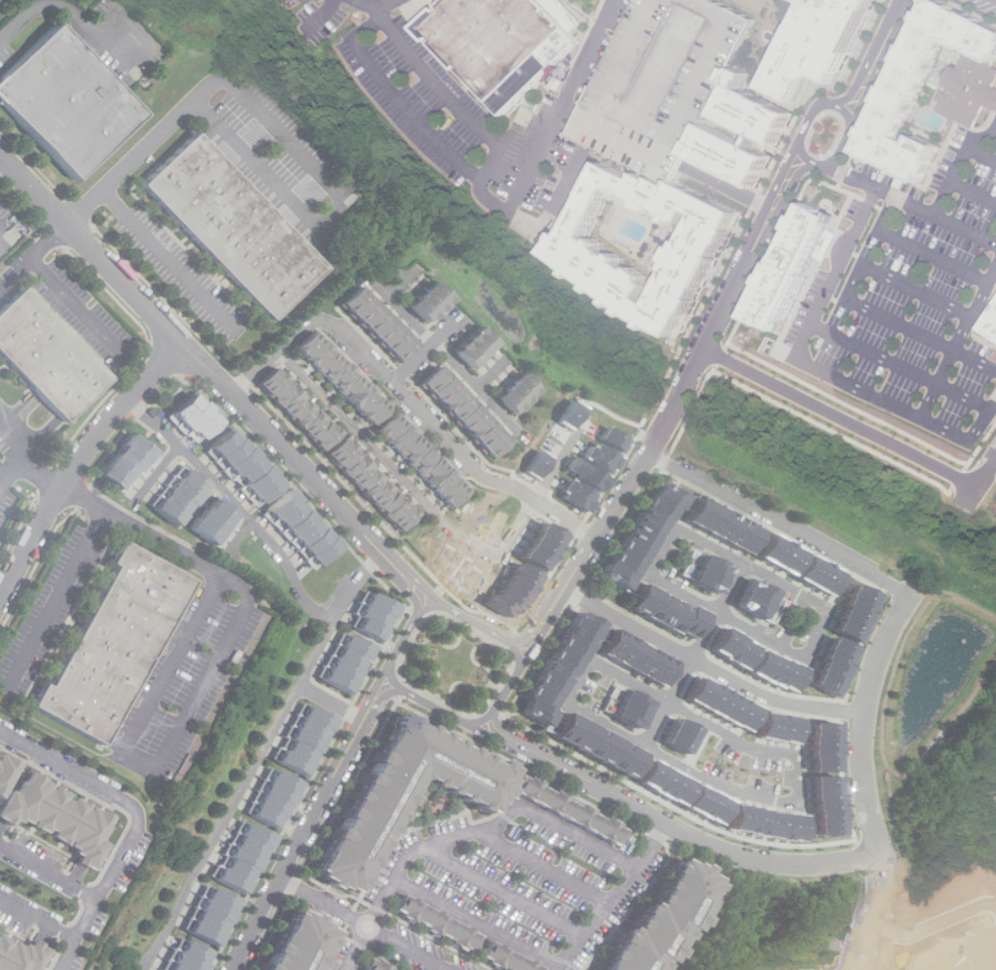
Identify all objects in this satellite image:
road: (989, 3)
road: (371, 7)
road: (392, 7)
road: (324, 14)
road: (76, 16)
road: (375, 18)
building: (499, 38)
building: (826, 41)
road: (877, 55)
building: (668, 80)
parking lot: (668, 80)
building: (973, 92)
building: (67, 100)
road: (575, 114)
building: (754, 114)
road: (558, 123)
road: (283, 130)
road: (982, 153)
building: (735, 156)
road: (835, 158)
road: (959, 164)
road: (730, 189)
road: (974, 191)
road: (566, 200)
road: (888, 212)
road: (946, 218)
building: (233, 226)
building: (585, 246)
road: (165, 254)
road: (32, 255)
road: (934, 256)
building: (798, 268)
road: (400, 281)
road: (918, 289)
road: (74, 303)
building: (429, 303)
building: (990, 323)
road: (967, 324)
building: (376, 325)
road: (808, 331)
road: (921, 334)
road: (430, 343)
road: (424, 347)
building: (473, 348)
road: (876, 353)
building: (47, 357)
road: (212, 376)
building: (339, 378)
building: (517, 394)
road: (406, 400)
road: (993, 404)
road: (675, 408)
building: (297, 409)
road: (993, 409)
building: (461, 411)
building: (194, 418)
road: (843, 418)
road: (972, 436)
road: (362, 438)
road: (30, 454)
building: (423, 460)
road: (80, 461)
road: (16, 462)
building: (126, 463)
building: (243, 468)
road: (2, 470)
road: (158, 473)
building: (587, 475)
road: (2, 476)
road: (989, 477)
building: (371, 484)
building: (179, 495)
road: (538, 497)
building: (216, 522)
road: (260, 525)
road: (779, 526)
building: (302, 531)
road: (238, 539)
building: (780, 552)
building: (622, 561)
building: (710, 572)
building: (820, 574)
road: (352, 585)
road: (55, 598)
building: (756, 598)
building: (857, 611)
road: (418, 614)
building: (375, 617)
road: (477, 623)
road: (738, 623)
road: (404, 640)
road: (509, 642)
building: (115, 643)
road: (418, 644)
road: (420, 646)
building: (734, 646)
road: (398, 651)
road: (695, 654)
road: (877, 664)
building: (350, 665)
building: (836, 666)
road: (710, 669)
building: (778, 669)
road: (488, 684)
road: (492, 685)
building: (540, 689)
road: (401, 690)
road: (505, 691)
road: (200, 693)
road: (333, 704)
building: (628, 704)
road: (433, 709)
road: (469, 711)
road: (492, 715)
building: (307, 741)
building: (3, 765)
road: (700, 775)
road: (243, 796)
building: (406, 797)
building: (278, 799)
building: (569, 810)
building: (56, 814)
road: (137, 820)
road: (311, 828)
road: (673, 828)
road: (579, 833)
building: (248, 858)
road: (411, 861)
road: (544, 867)
road: (50, 870)
parking lot: (525, 880)
road: (504, 891)
road: (615, 898)
road: (936, 913)
road: (38, 918)
building: (216, 919)
road: (875, 919)
building: (666, 920)
road: (367, 924)
road: (480, 924)
building: (468, 937)
building: (303, 946)
parking lot: (427, 953)
building: (19, 954)
building: (192, 959)
building: (379, 966)

